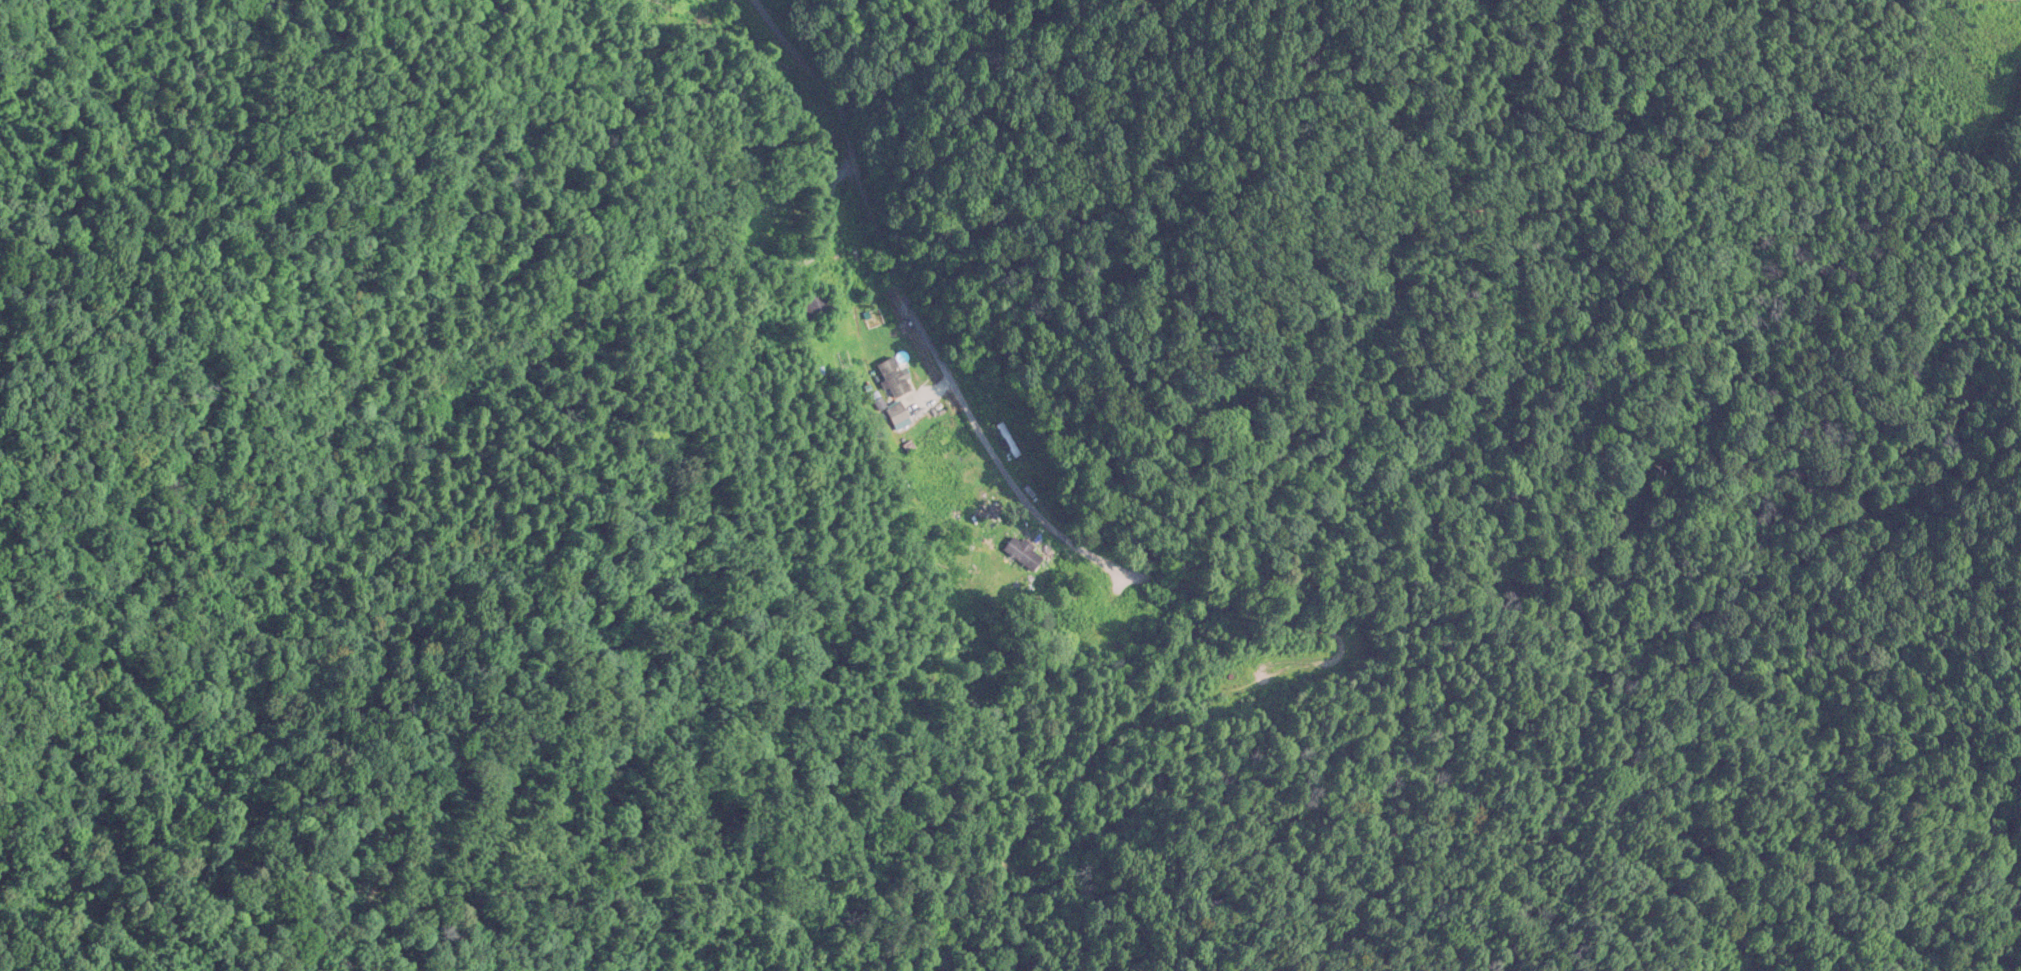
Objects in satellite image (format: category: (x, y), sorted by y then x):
road: (2019, 0)
road: (1966, 49)
road: (898, 341)
road: (1230, 811)

